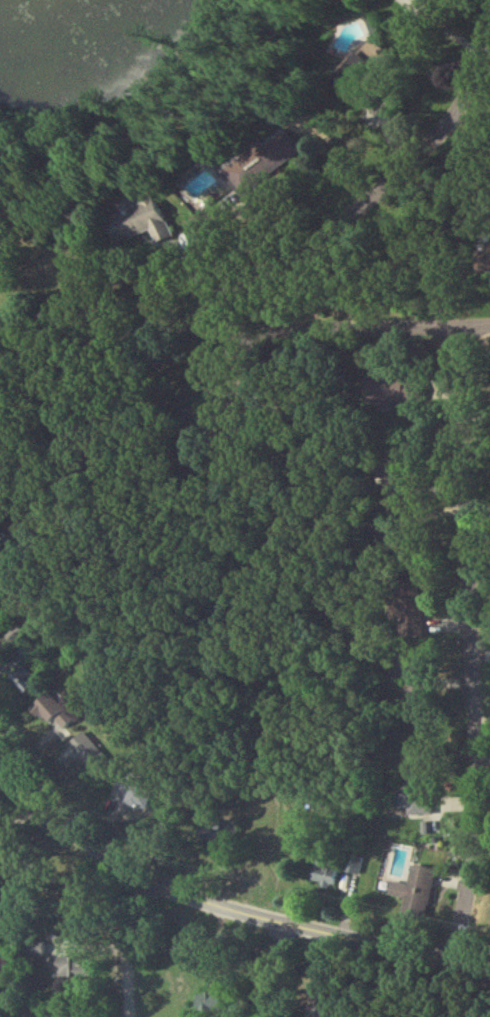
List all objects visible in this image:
building: (358, 72)
building: (259, 165)
road: (343, 222)
building: (138, 228)
road: (319, 333)
road: (74, 343)
building: (393, 395)
building: (1, 578)
road: (471, 648)
building: (51, 713)
building: (416, 790)
building: (139, 800)
building: (213, 836)
building: (353, 870)
building: (323, 880)
building: (415, 897)
road: (221, 910)
road: (124, 947)
building: (69, 971)
building: (209, 1006)

